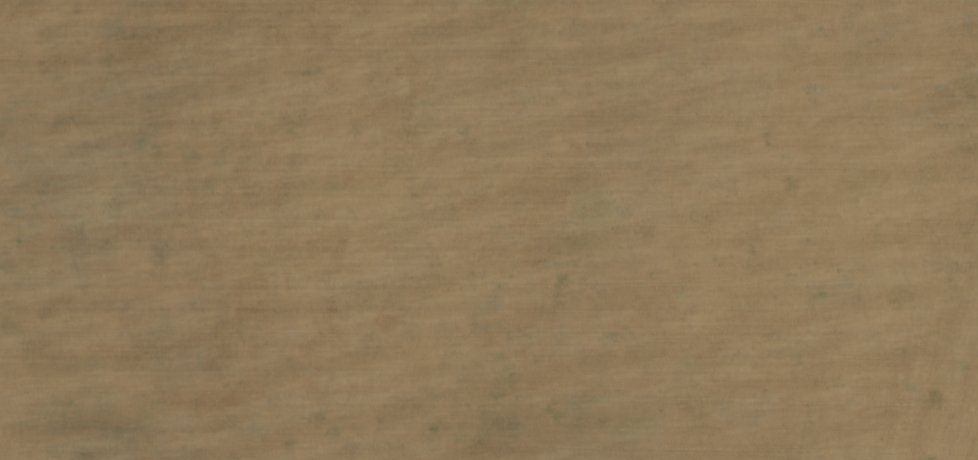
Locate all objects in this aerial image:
crop: (489, 230)

